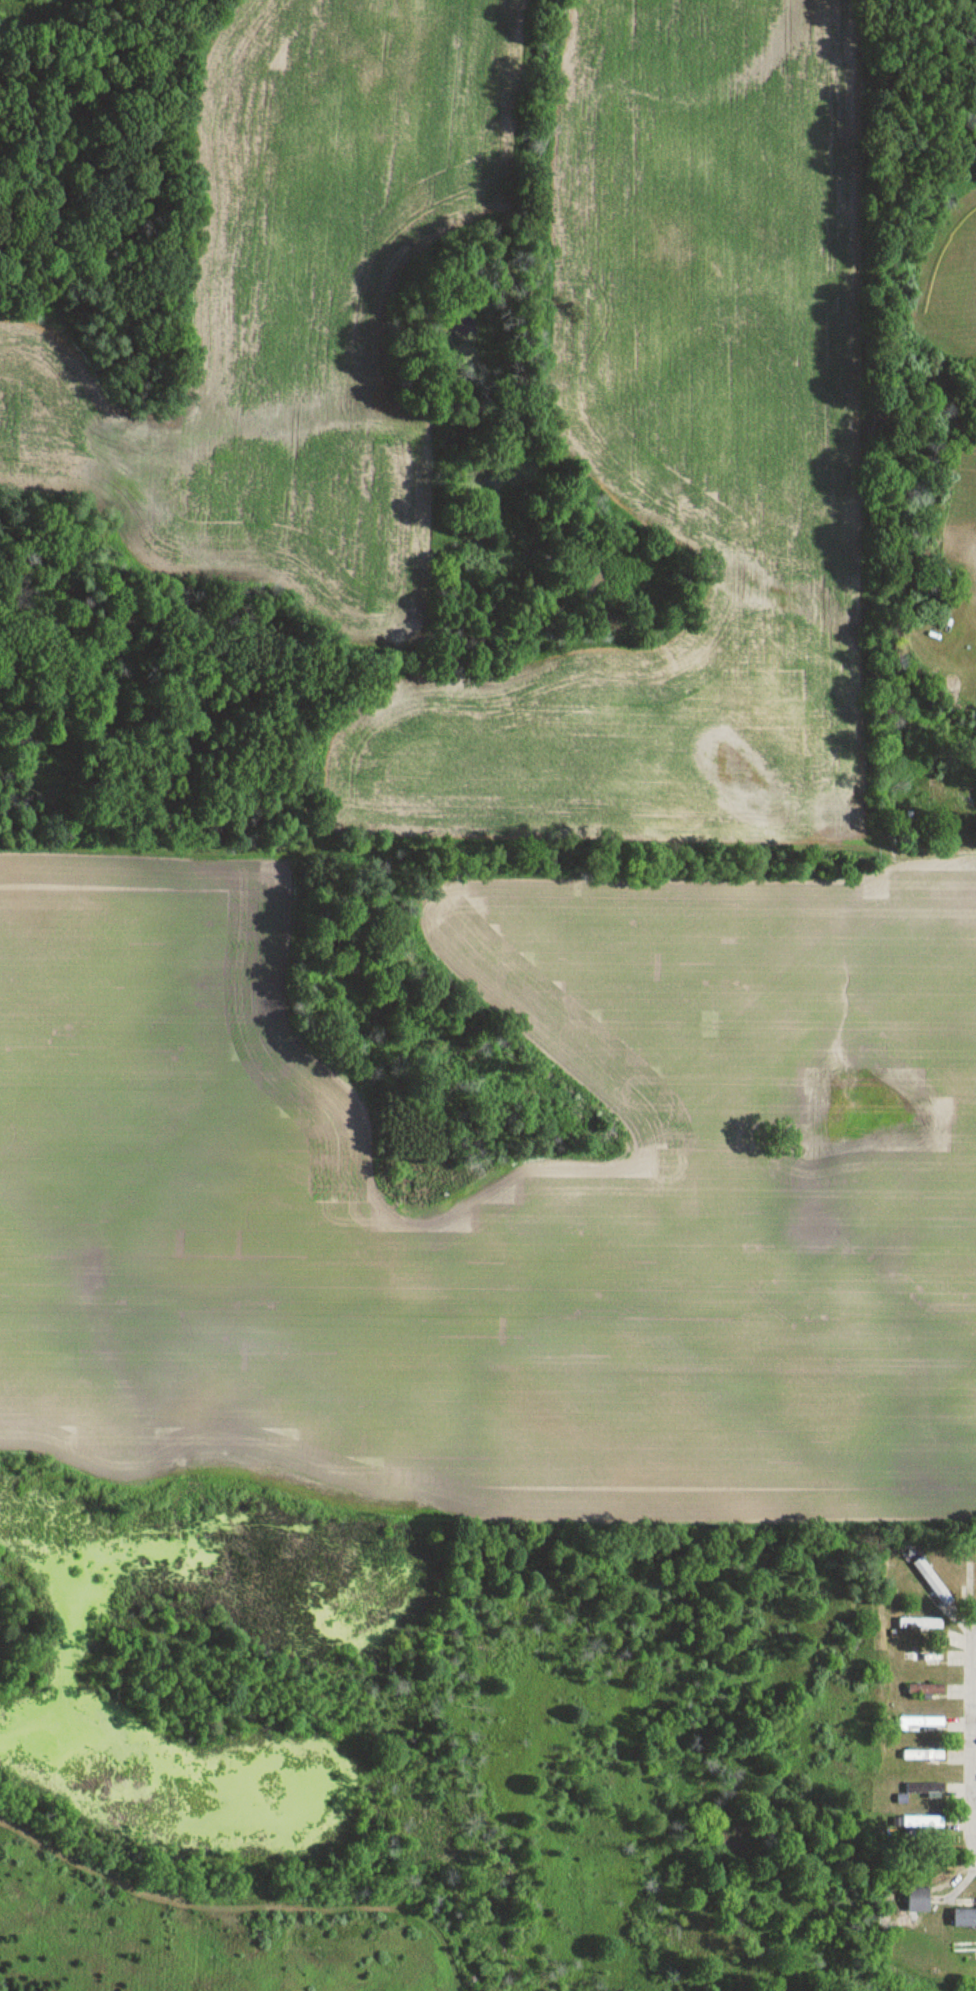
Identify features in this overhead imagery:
park: (955, 283)
road: (932, 846)
building: (969, 1579)
road: (975, 1639)
building: (927, 1657)
road: (975, 1677)
building: (924, 1690)
building: (921, 1725)
building: (923, 1756)
building: (926, 1789)
building: (917, 1901)
building: (964, 1918)
building: (964, 1948)

